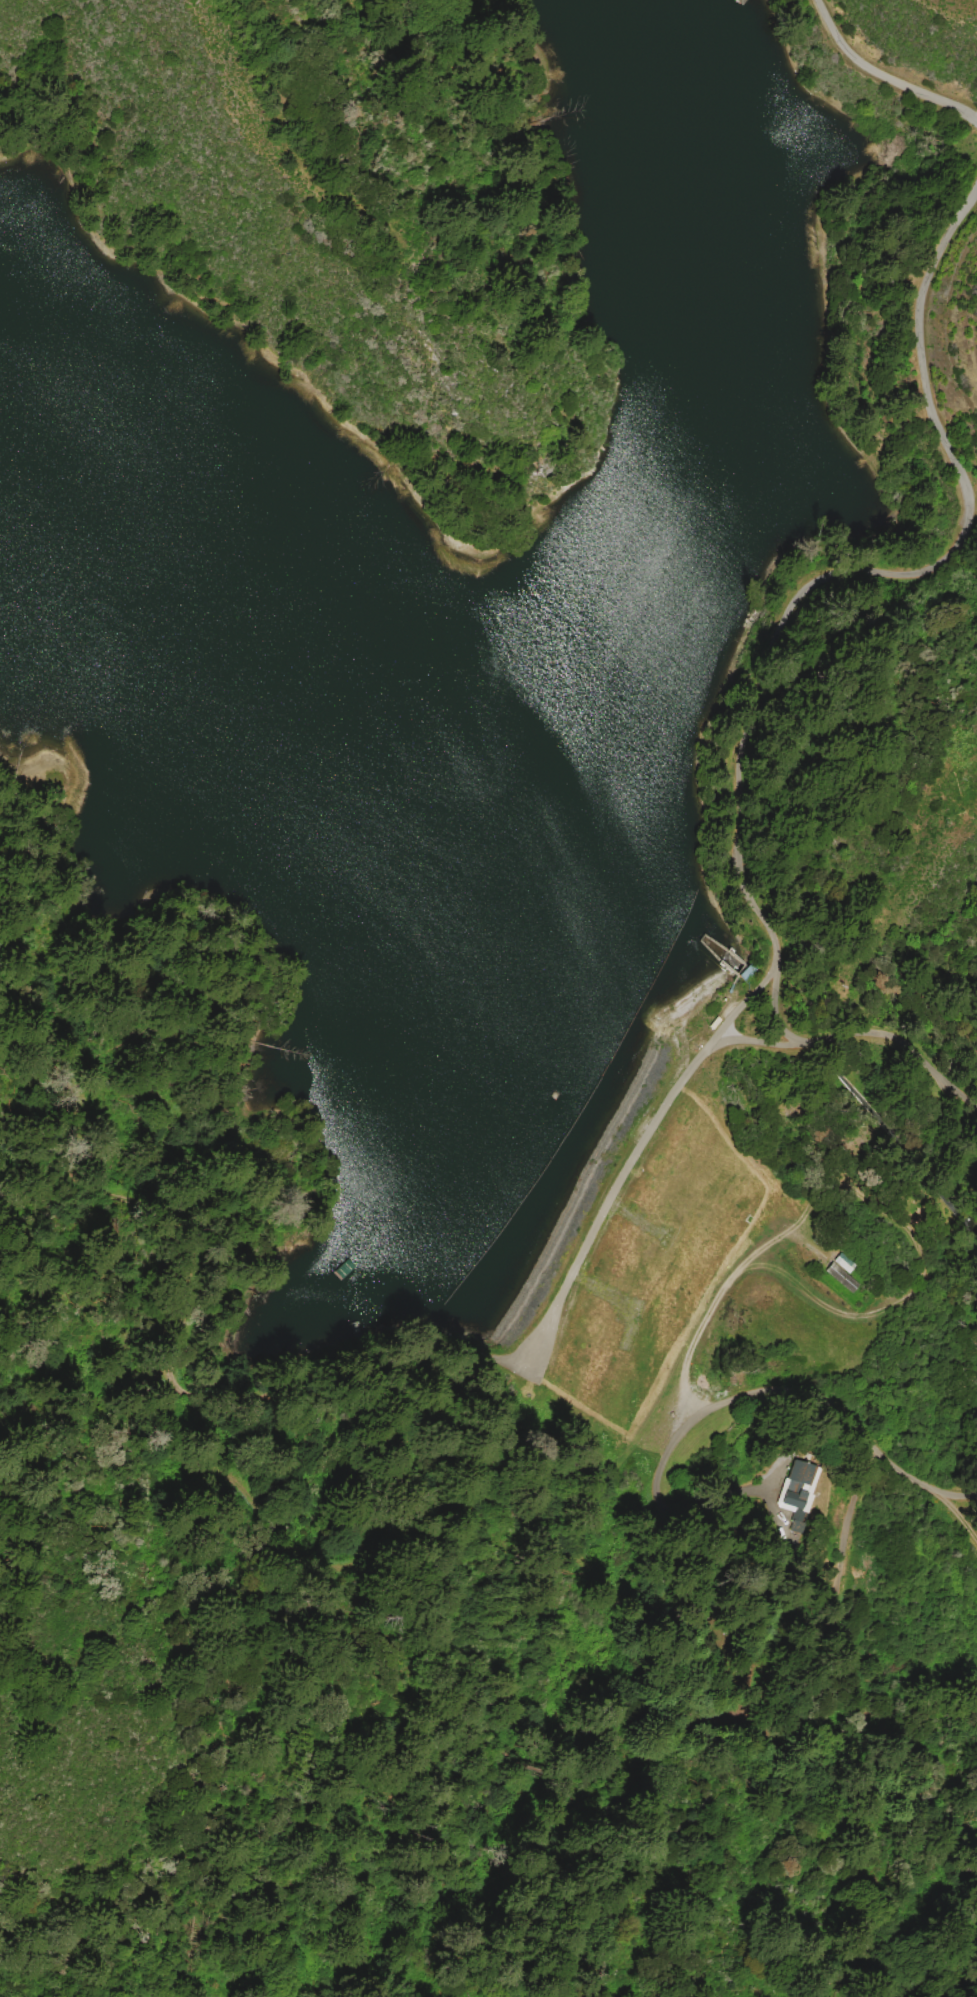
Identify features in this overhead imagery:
road: (890, 70)
road: (834, 574)
dam: (626, 1101)
building: (843, 1261)
building: (841, 1276)
road: (718, 1301)
road: (821, 1302)
road: (452, 1354)
road: (821, 1400)
building: (798, 1488)
building: (787, 1549)

